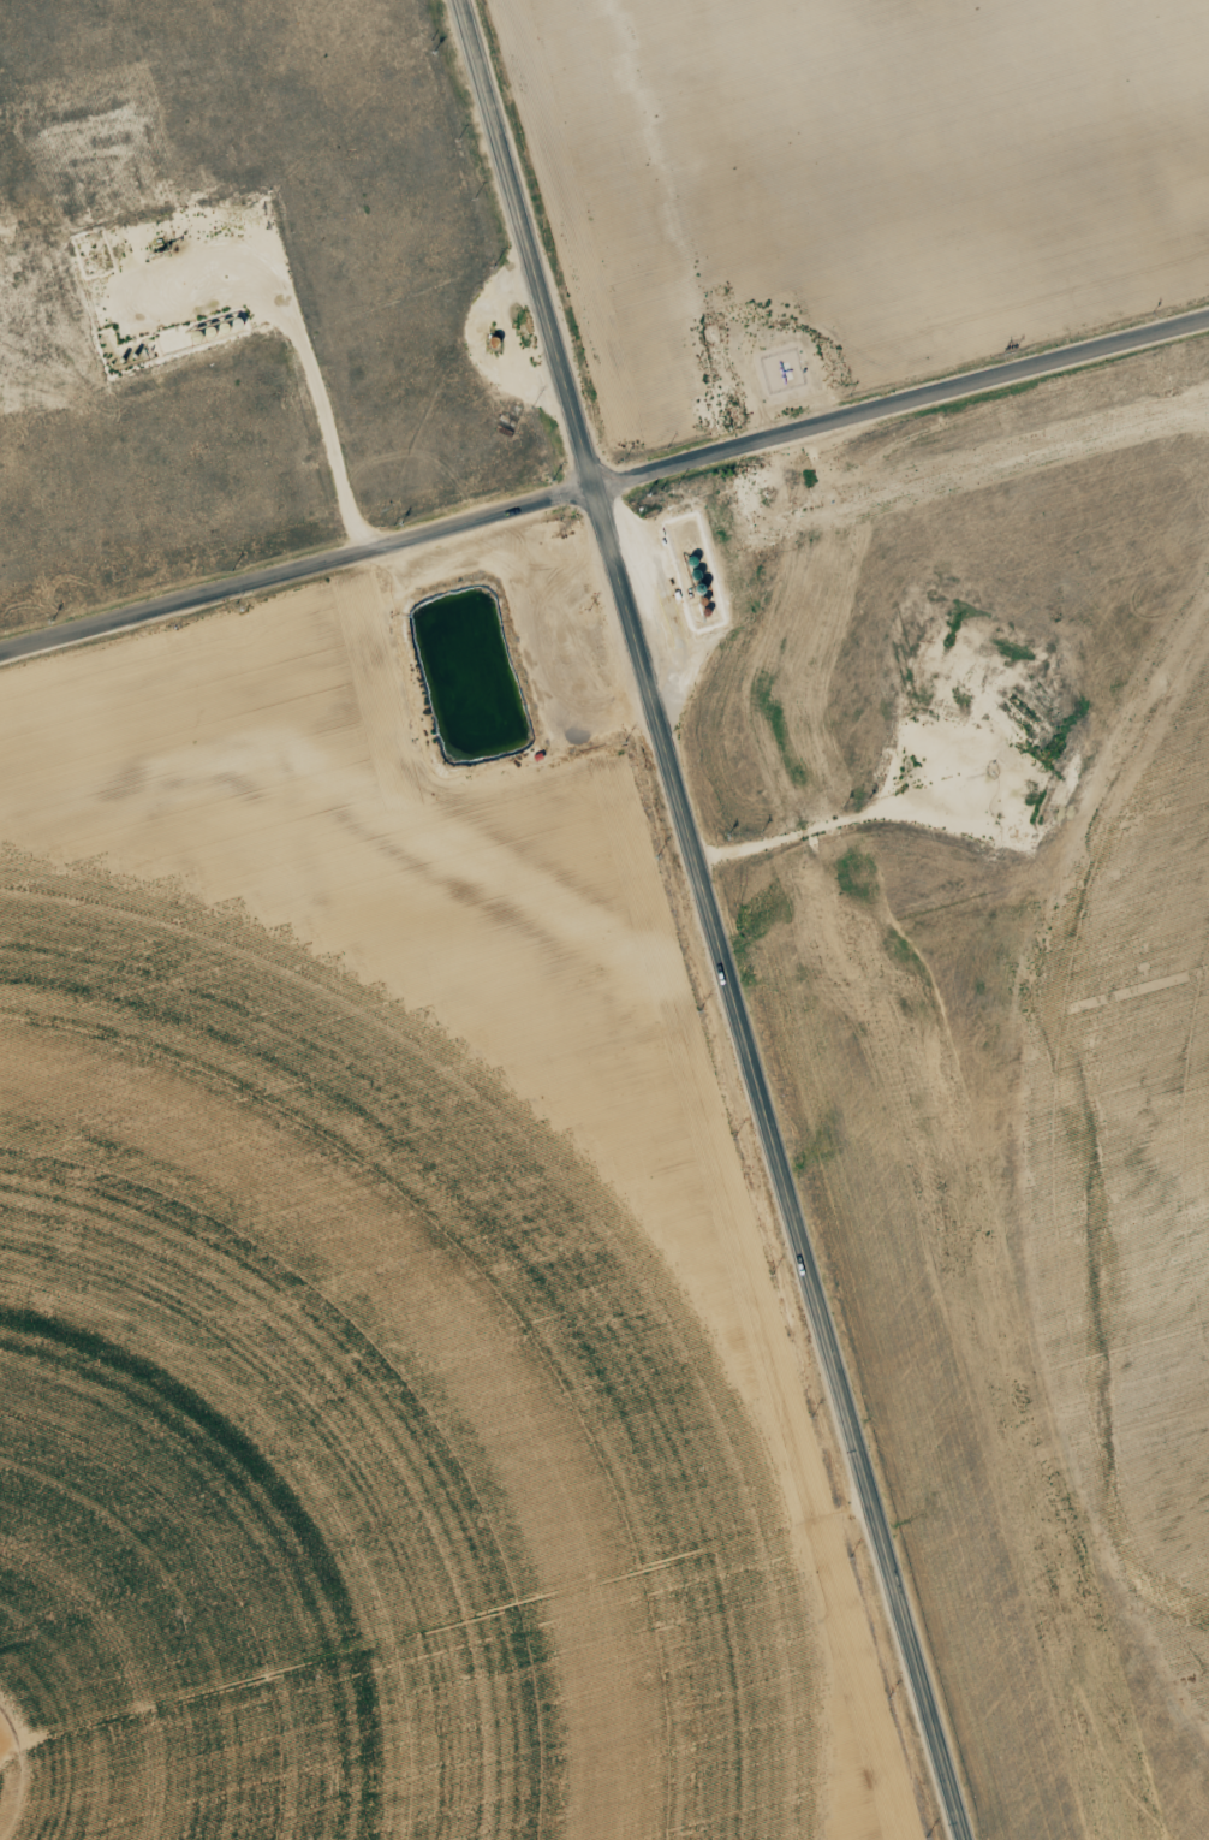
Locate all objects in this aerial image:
petroleum well: (168, 247)
road: (604, 485)
road: (709, 920)

